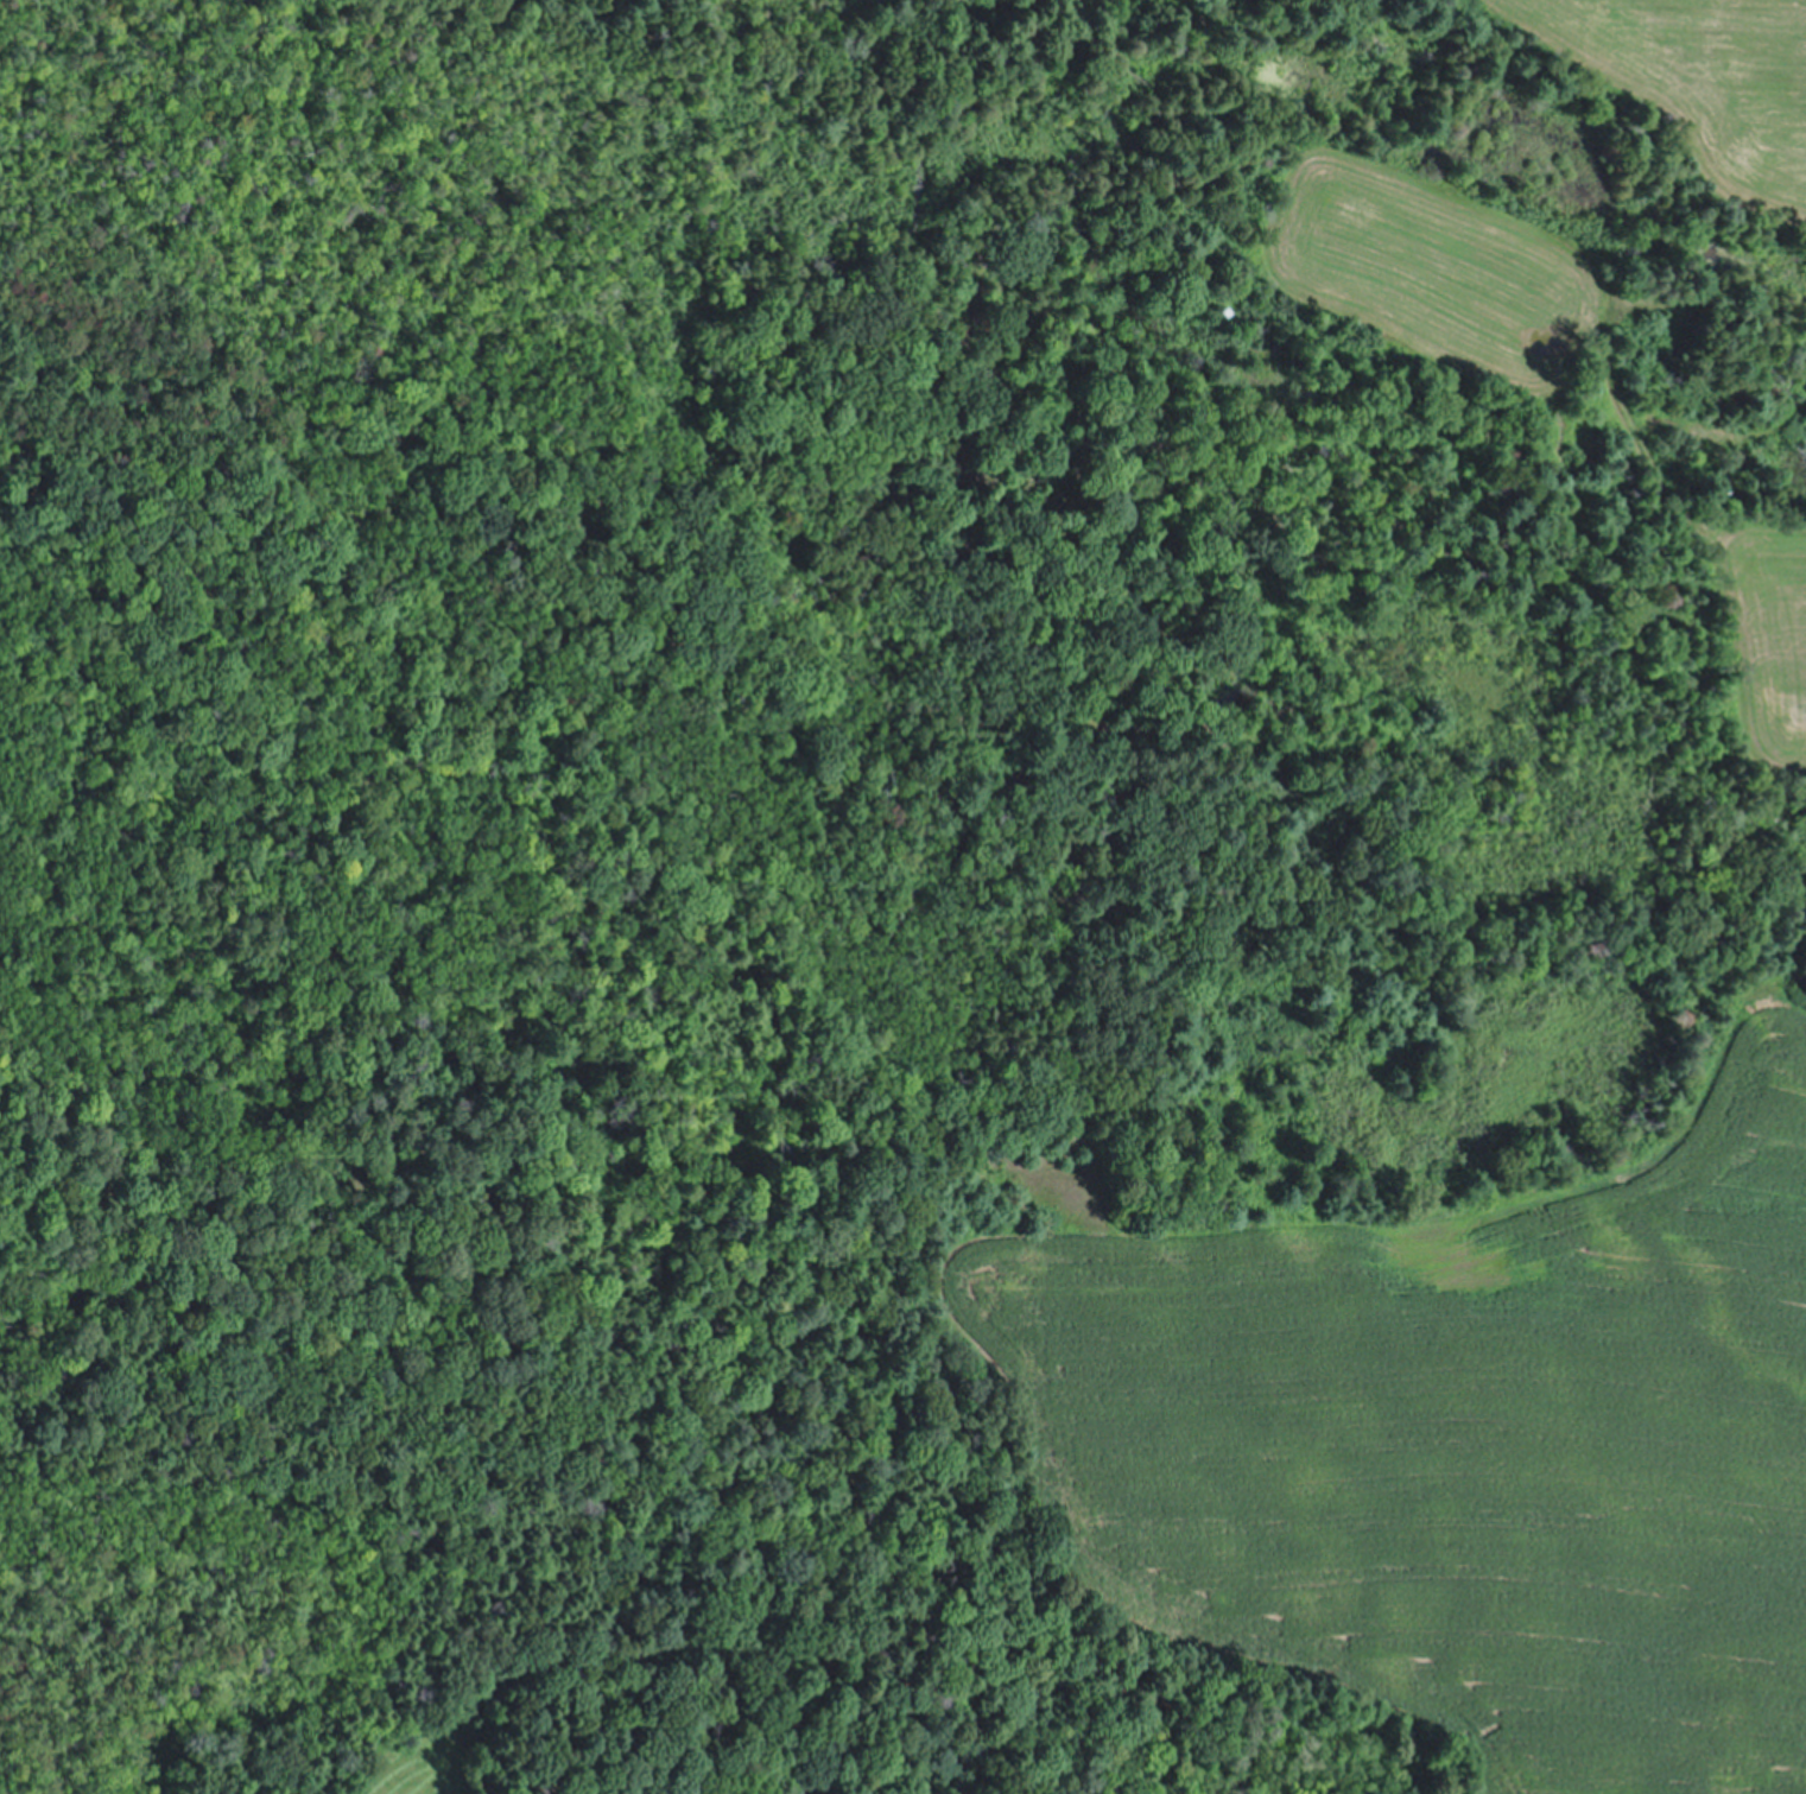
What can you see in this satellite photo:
building: (629, 800)

